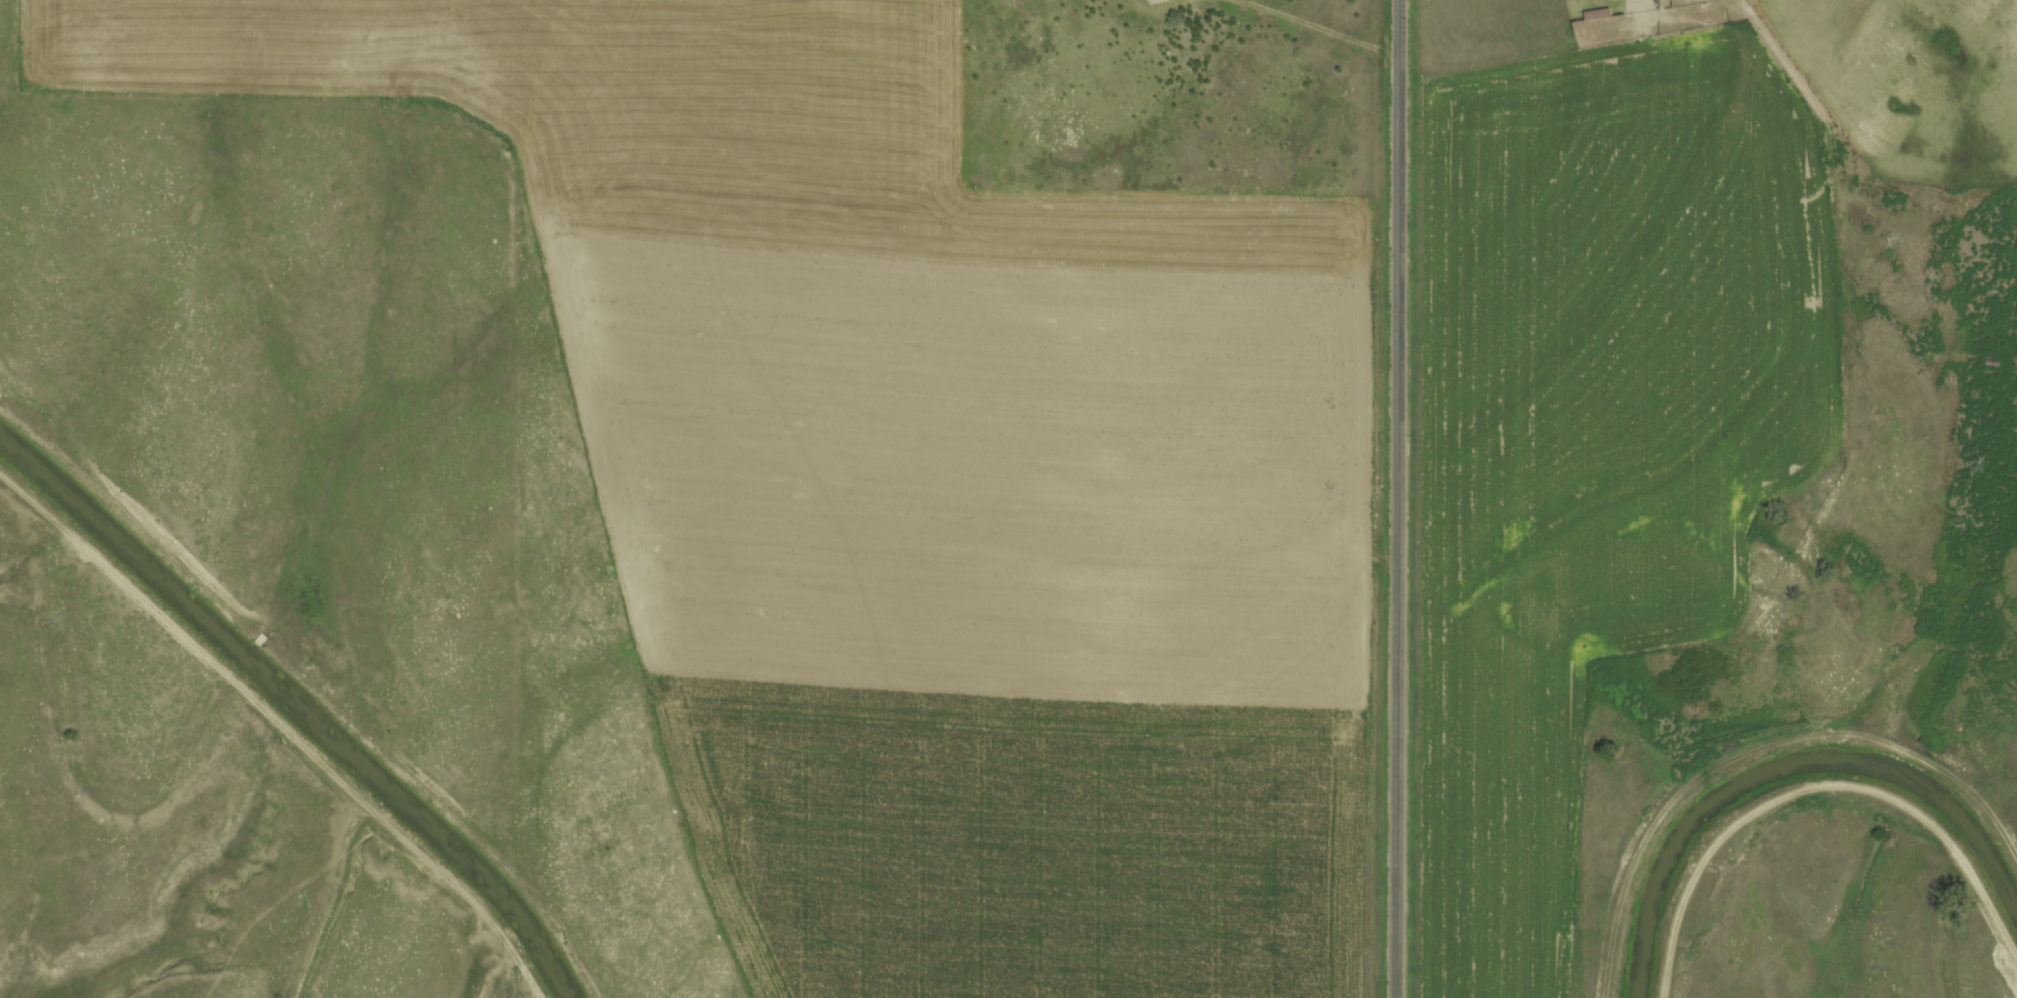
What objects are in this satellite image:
road: (1313, 25)
crop: (694, 124)
crop: (1587, 429)
road: (1394, 498)
road: (283, 725)
road: (1816, 784)

